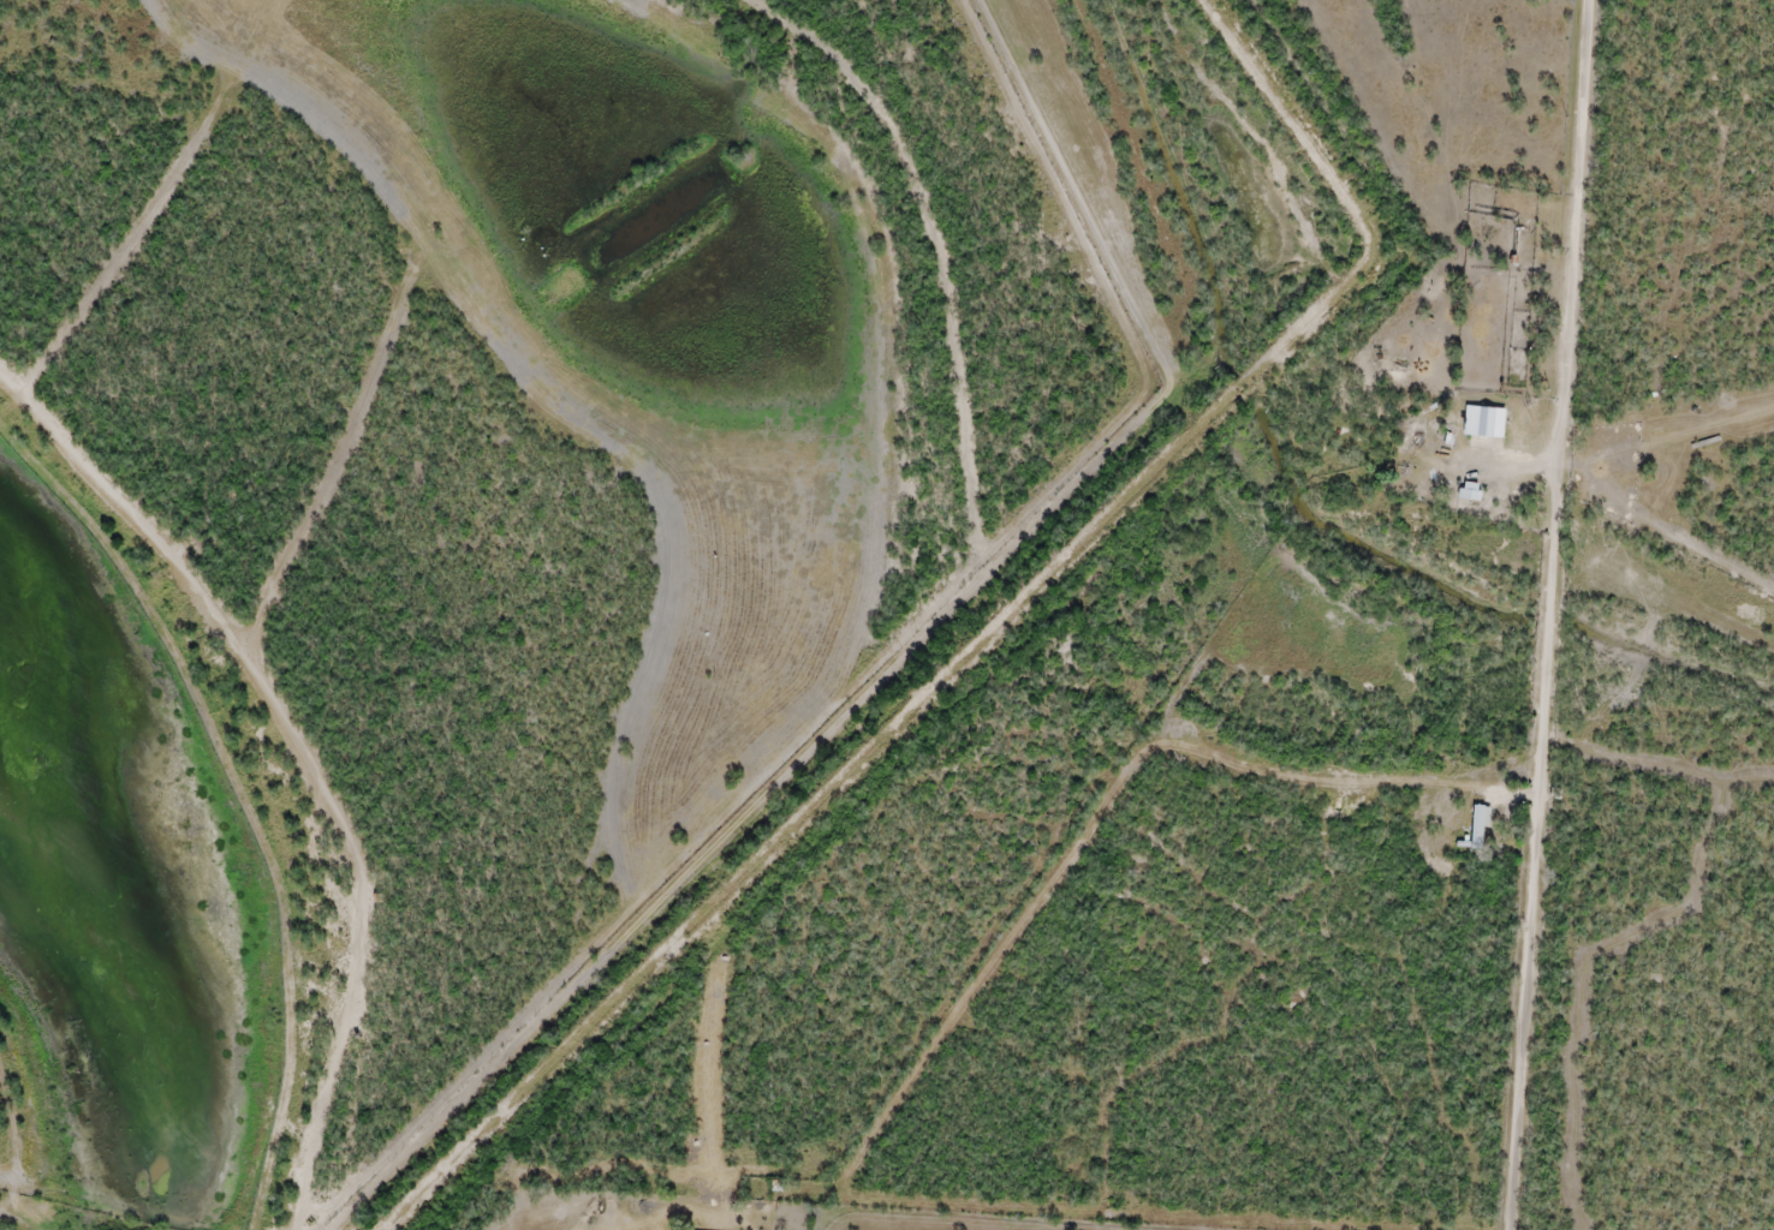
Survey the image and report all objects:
building: (1483, 420)
building: (1469, 491)
road: (1561, 614)
road: (315, 704)
building: (1478, 823)

